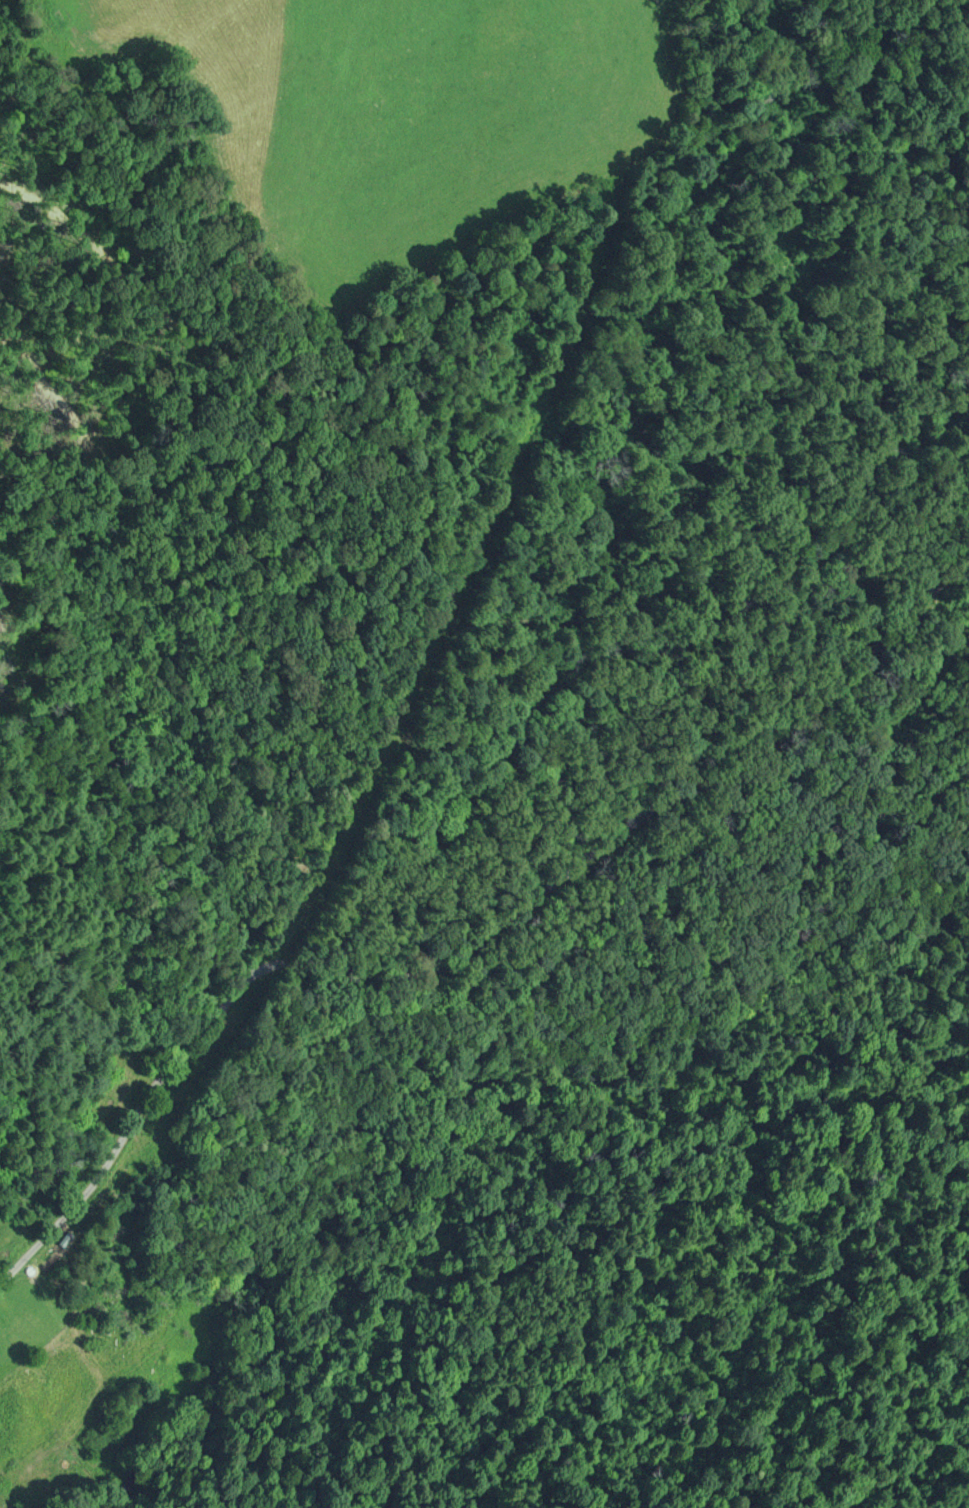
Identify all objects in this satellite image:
road: (967, 574)
road: (492, 921)

